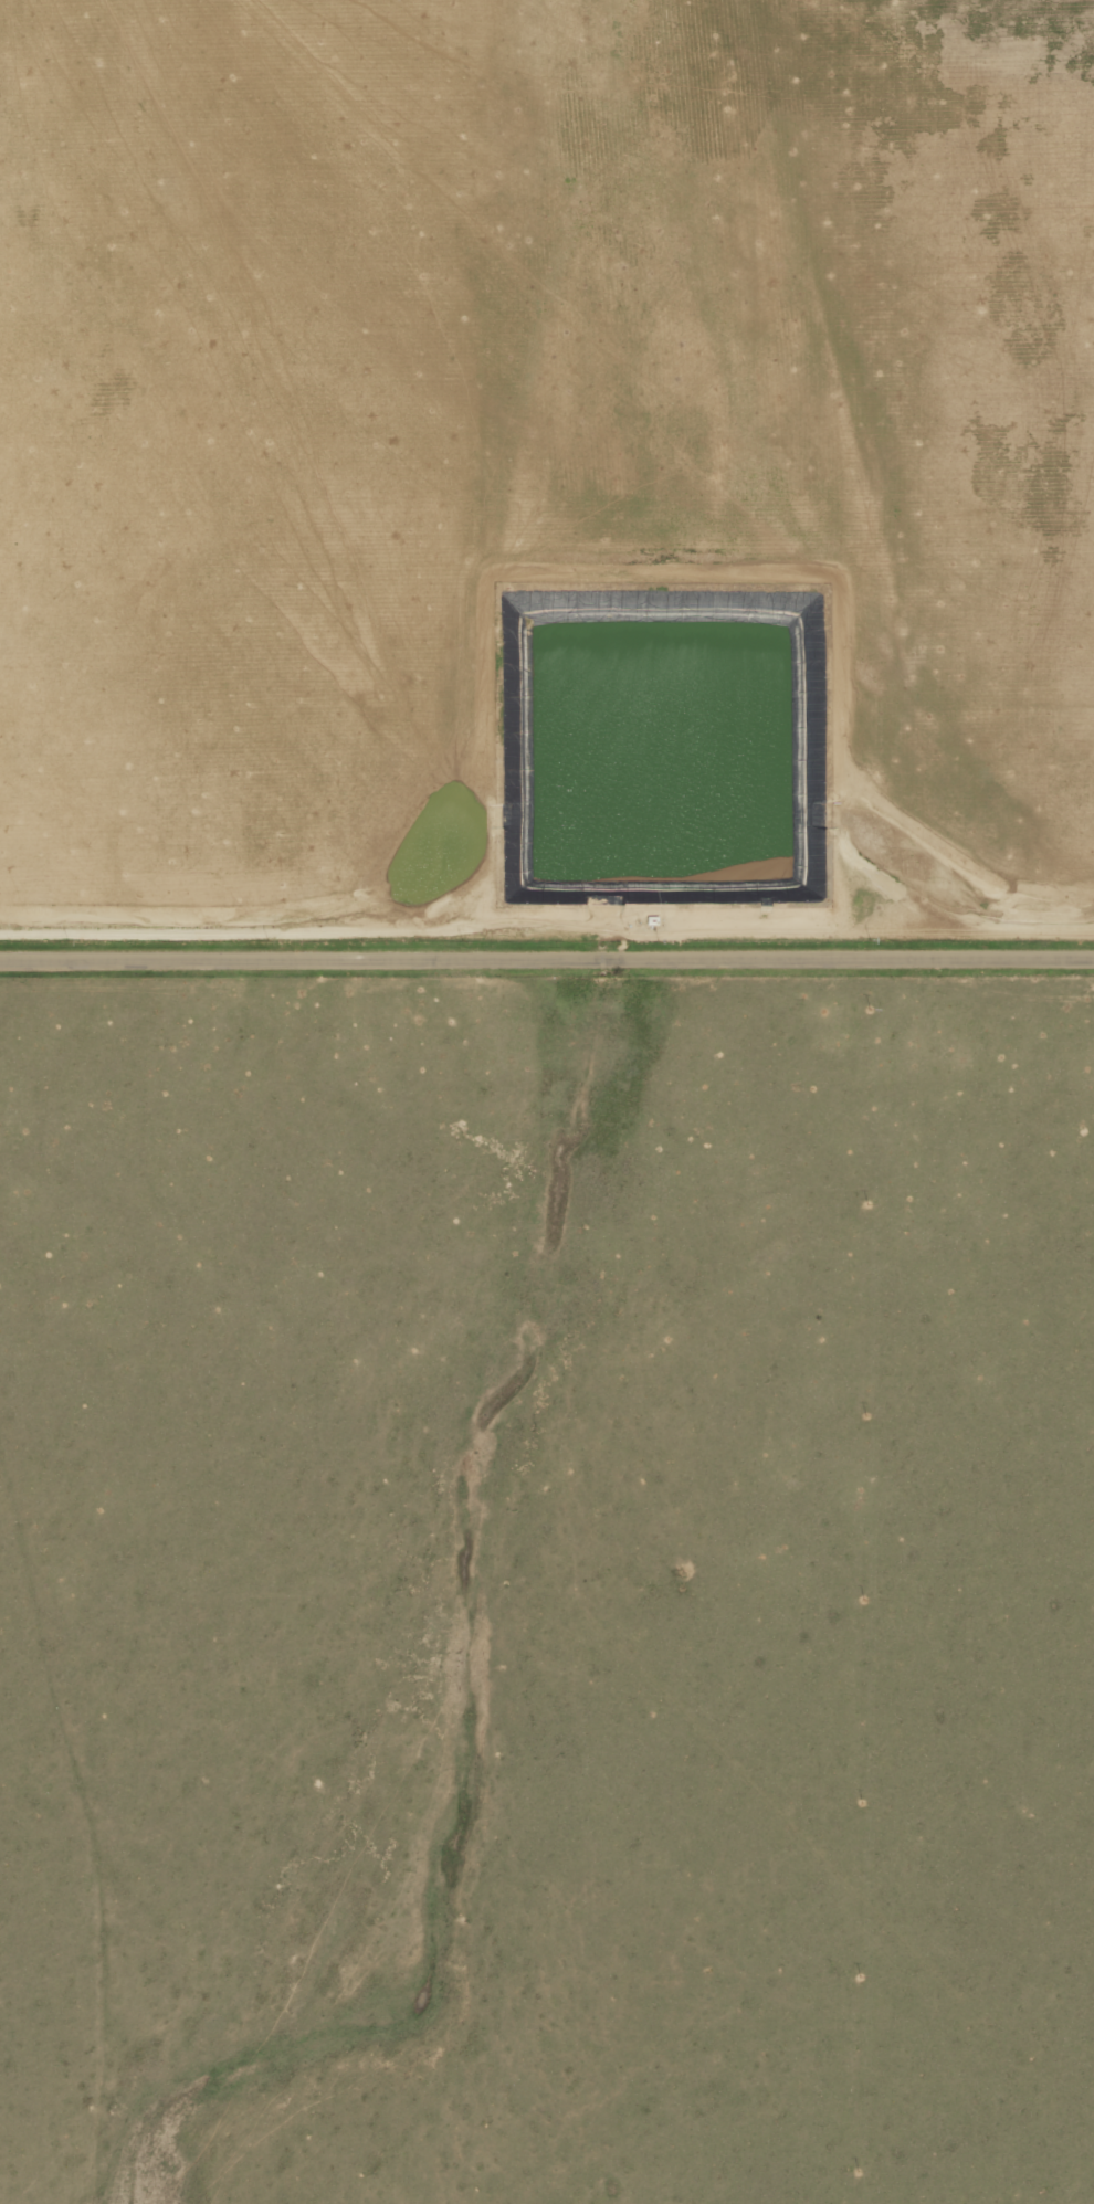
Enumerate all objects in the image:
road: (547, 957)

